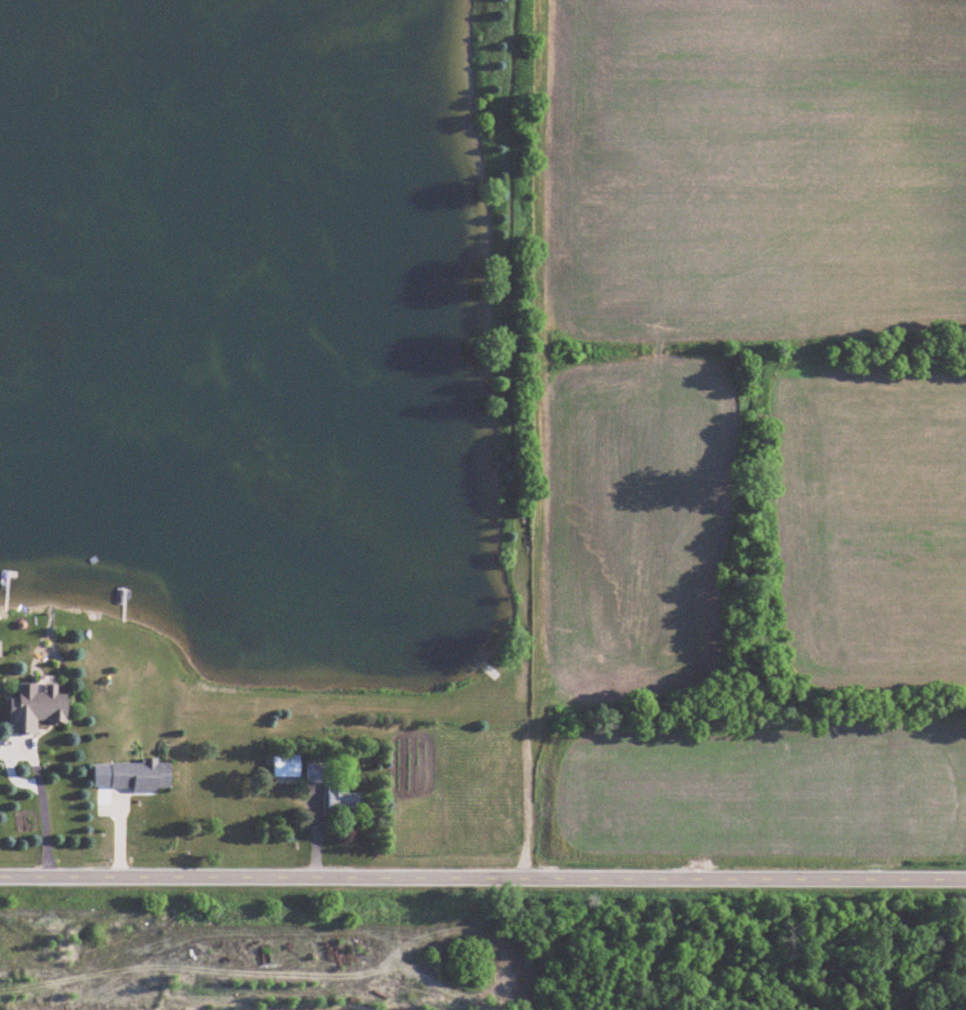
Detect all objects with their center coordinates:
building: (40, 704)
building: (288, 765)
building: (142, 775)
building: (333, 787)
road: (31, 811)
road: (482, 878)

